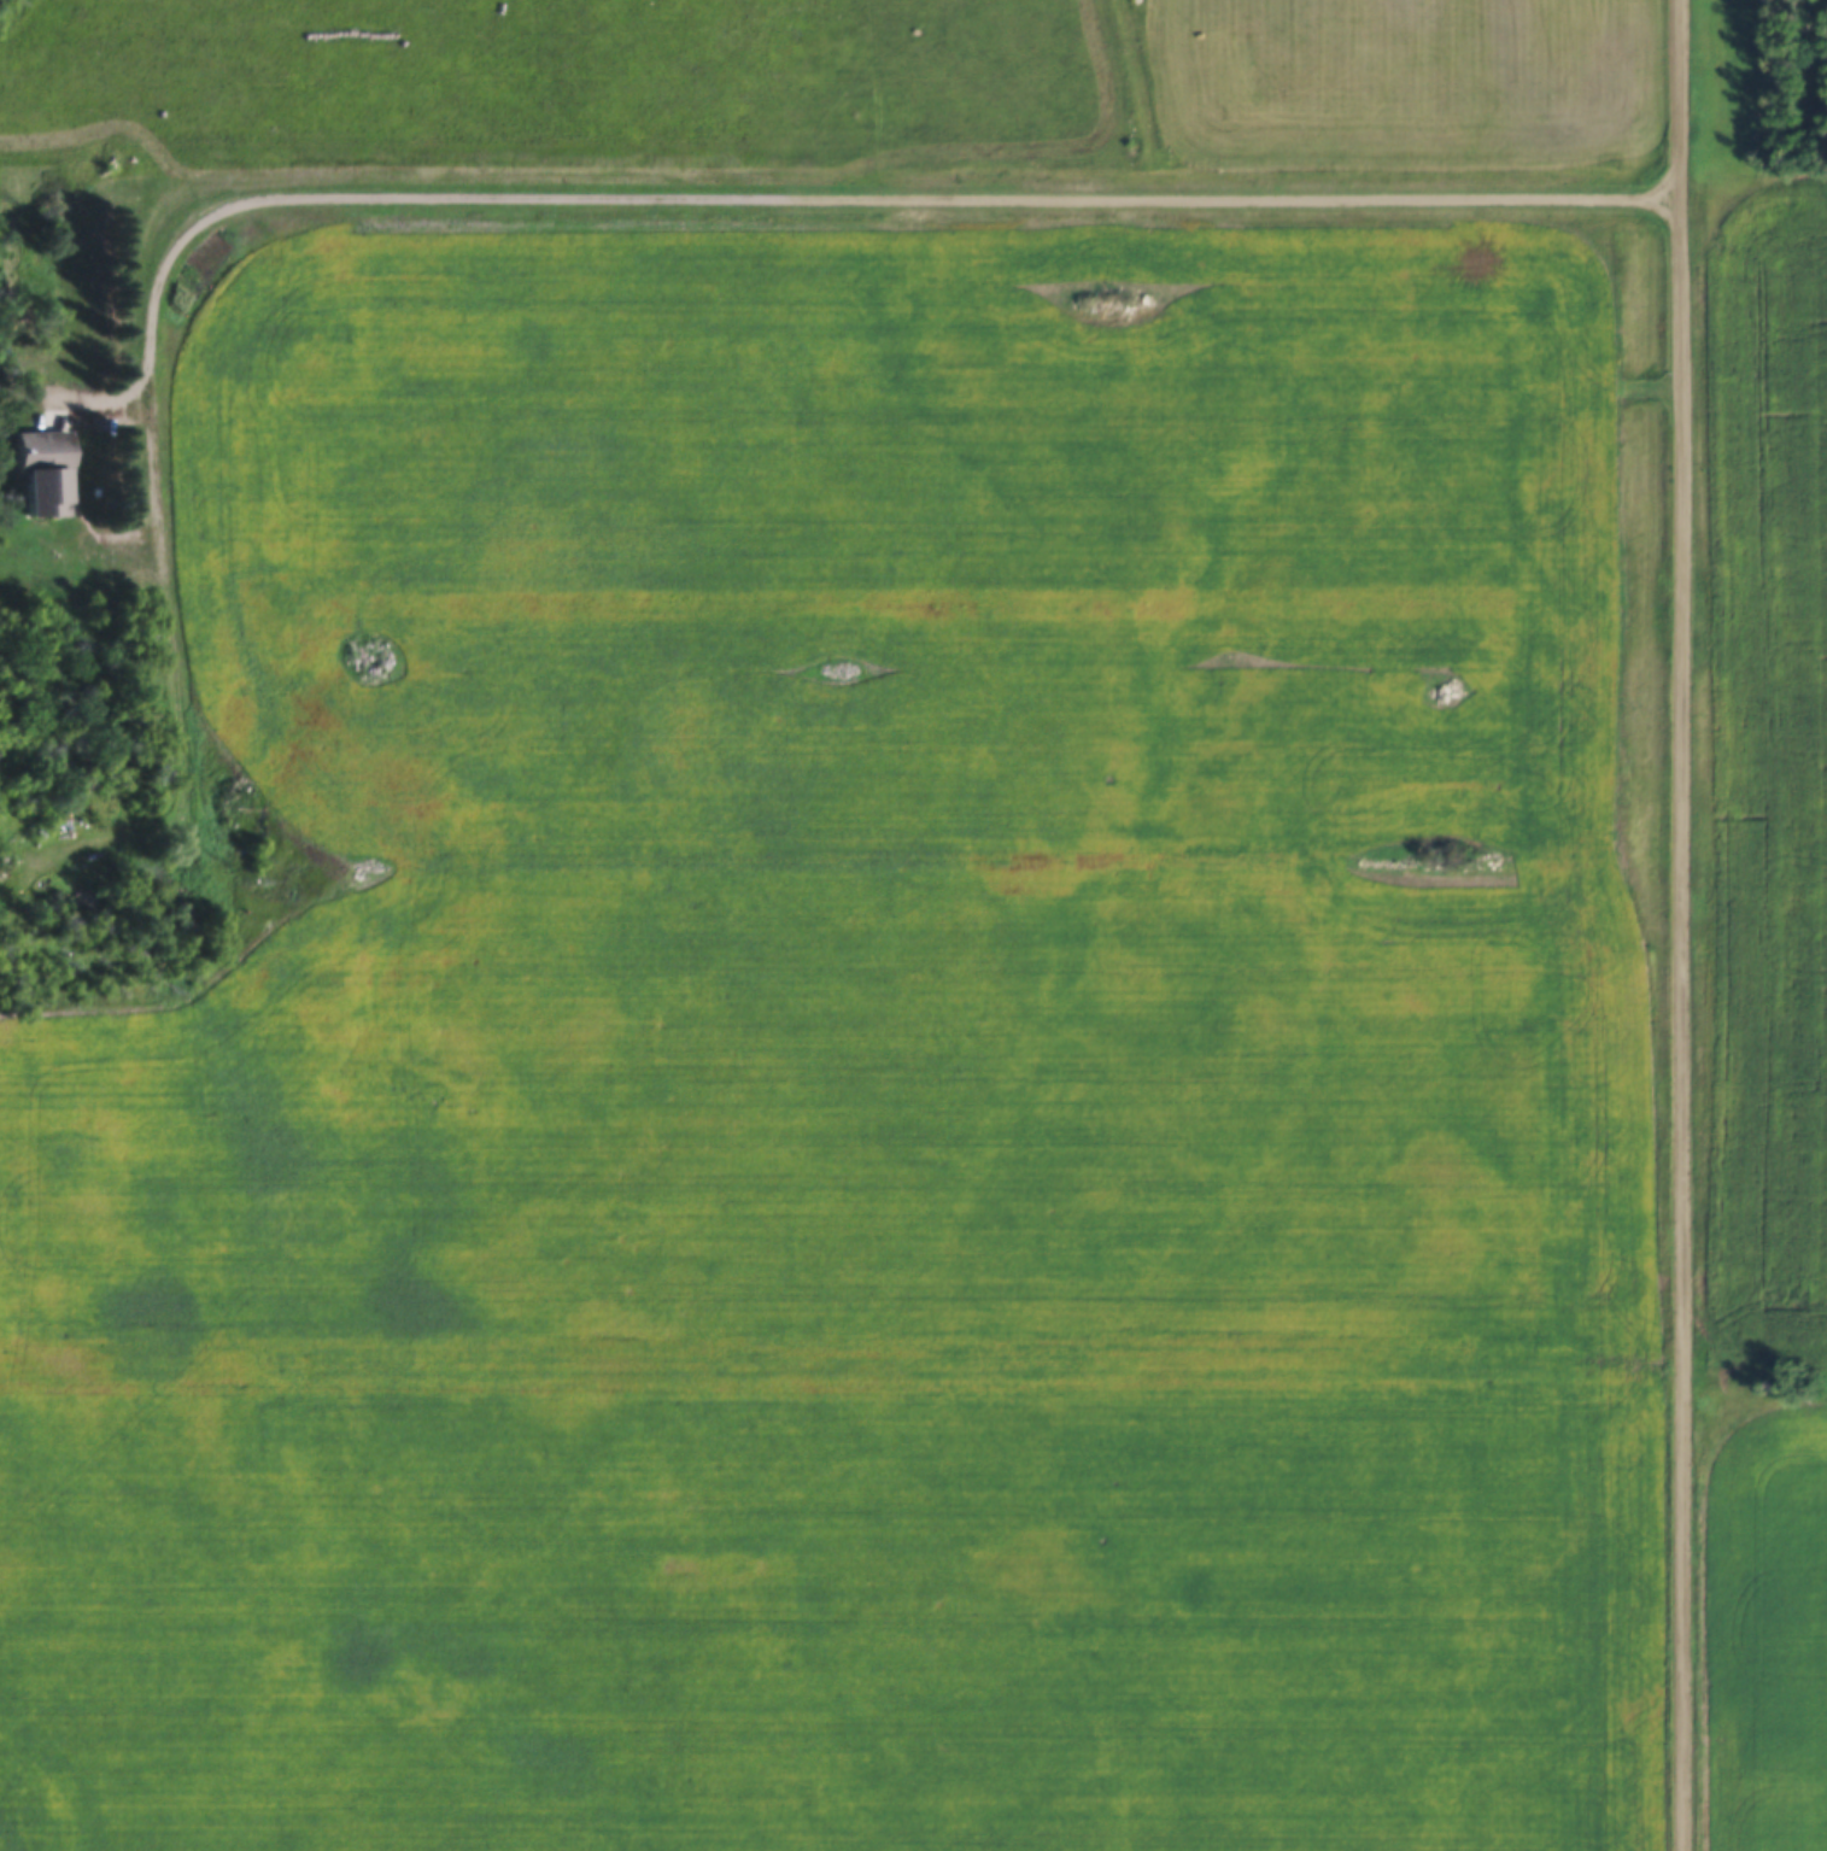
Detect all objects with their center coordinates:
building: (45, 471)
road: (1681, 925)

